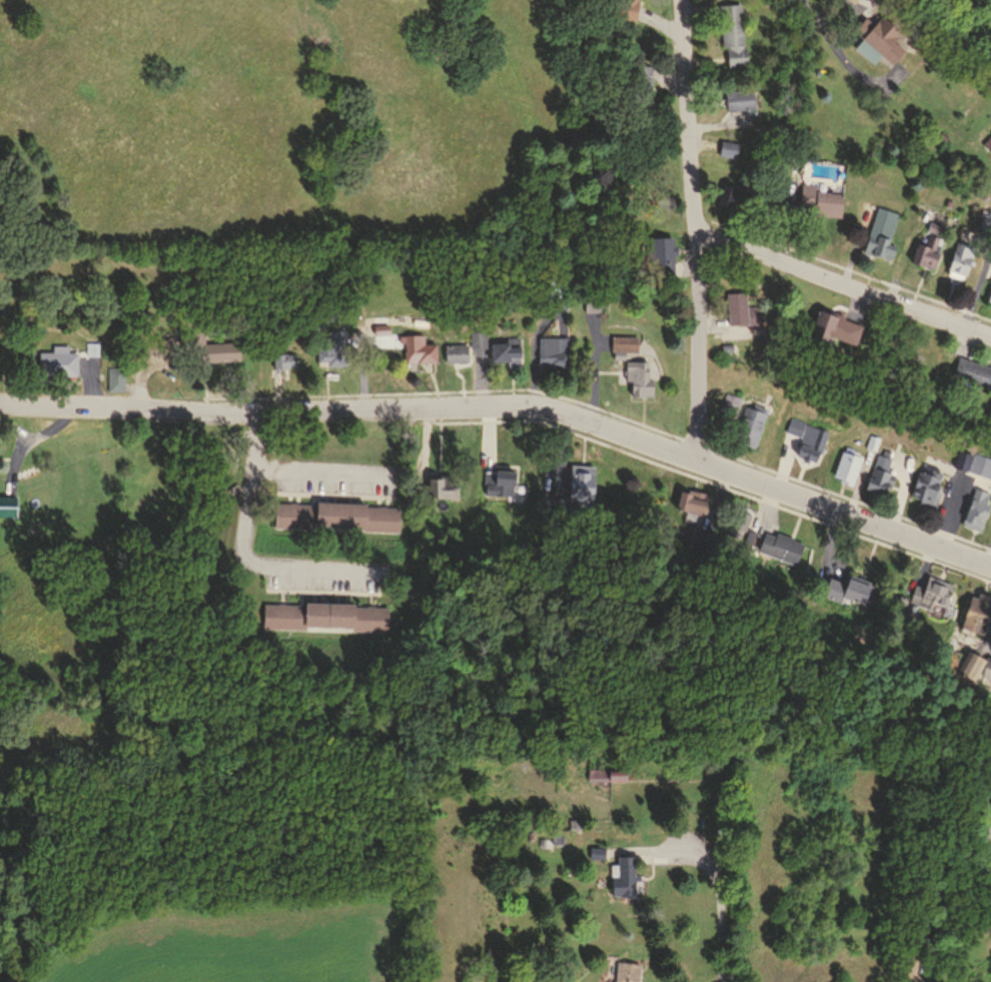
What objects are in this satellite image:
building: (839, 1)
building: (848, 2)
building: (624, 9)
road: (828, 16)
road: (846, 23)
building: (732, 36)
building: (875, 43)
road: (840, 58)
building: (637, 92)
building: (738, 102)
building: (727, 149)
building: (986, 151)
building: (733, 194)
building: (817, 200)
building: (946, 206)
road: (693, 227)
building: (931, 229)
building: (877, 244)
building: (923, 257)
building: (659, 258)
building: (957, 262)
road: (842, 282)
building: (554, 285)
road: (977, 285)
building: (988, 295)
building: (592, 301)
building: (739, 311)
building: (382, 328)
building: (831, 329)
building: (196, 338)
building: (625, 341)
building: (418, 348)
building: (553, 348)
building: (92, 349)
building: (332, 349)
building: (505, 349)
building: (218, 353)
building: (459, 353)
building: (8, 357)
building: (282, 360)
building: (58, 363)
building: (970, 374)
building: (639, 377)
building: (116, 378)
road: (508, 398)
building: (731, 401)
building: (751, 422)
building: (808, 436)
building: (874, 439)
building: (962, 458)
building: (849, 466)
road: (326, 468)
building: (882, 468)
building: (500, 478)
building: (583, 478)
building: (928, 481)
building: (445, 484)
building: (693, 497)
building: (559, 501)
building: (8, 502)
building: (977, 504)
building: (340, 510)
building: (743, 513)
building: (161, 524)
building: (704, 531)
building: (751, 532)
building: (526, 537)
building: (782, 542)
road: (250, 550)
building: (847, 587)
building: (932, 588)
building: (327, 610)
building: (977, 612)
building: (970, 663)
building: (988, 666)
building: (614, 772)
building: (990, 801)
building: (573, 823)
road: (645, 851)
building: (595, 853)
building: (622, 879)
road: (719, 908)
road: (972, 939)
building: (625, 973)
building: (958, 975)

